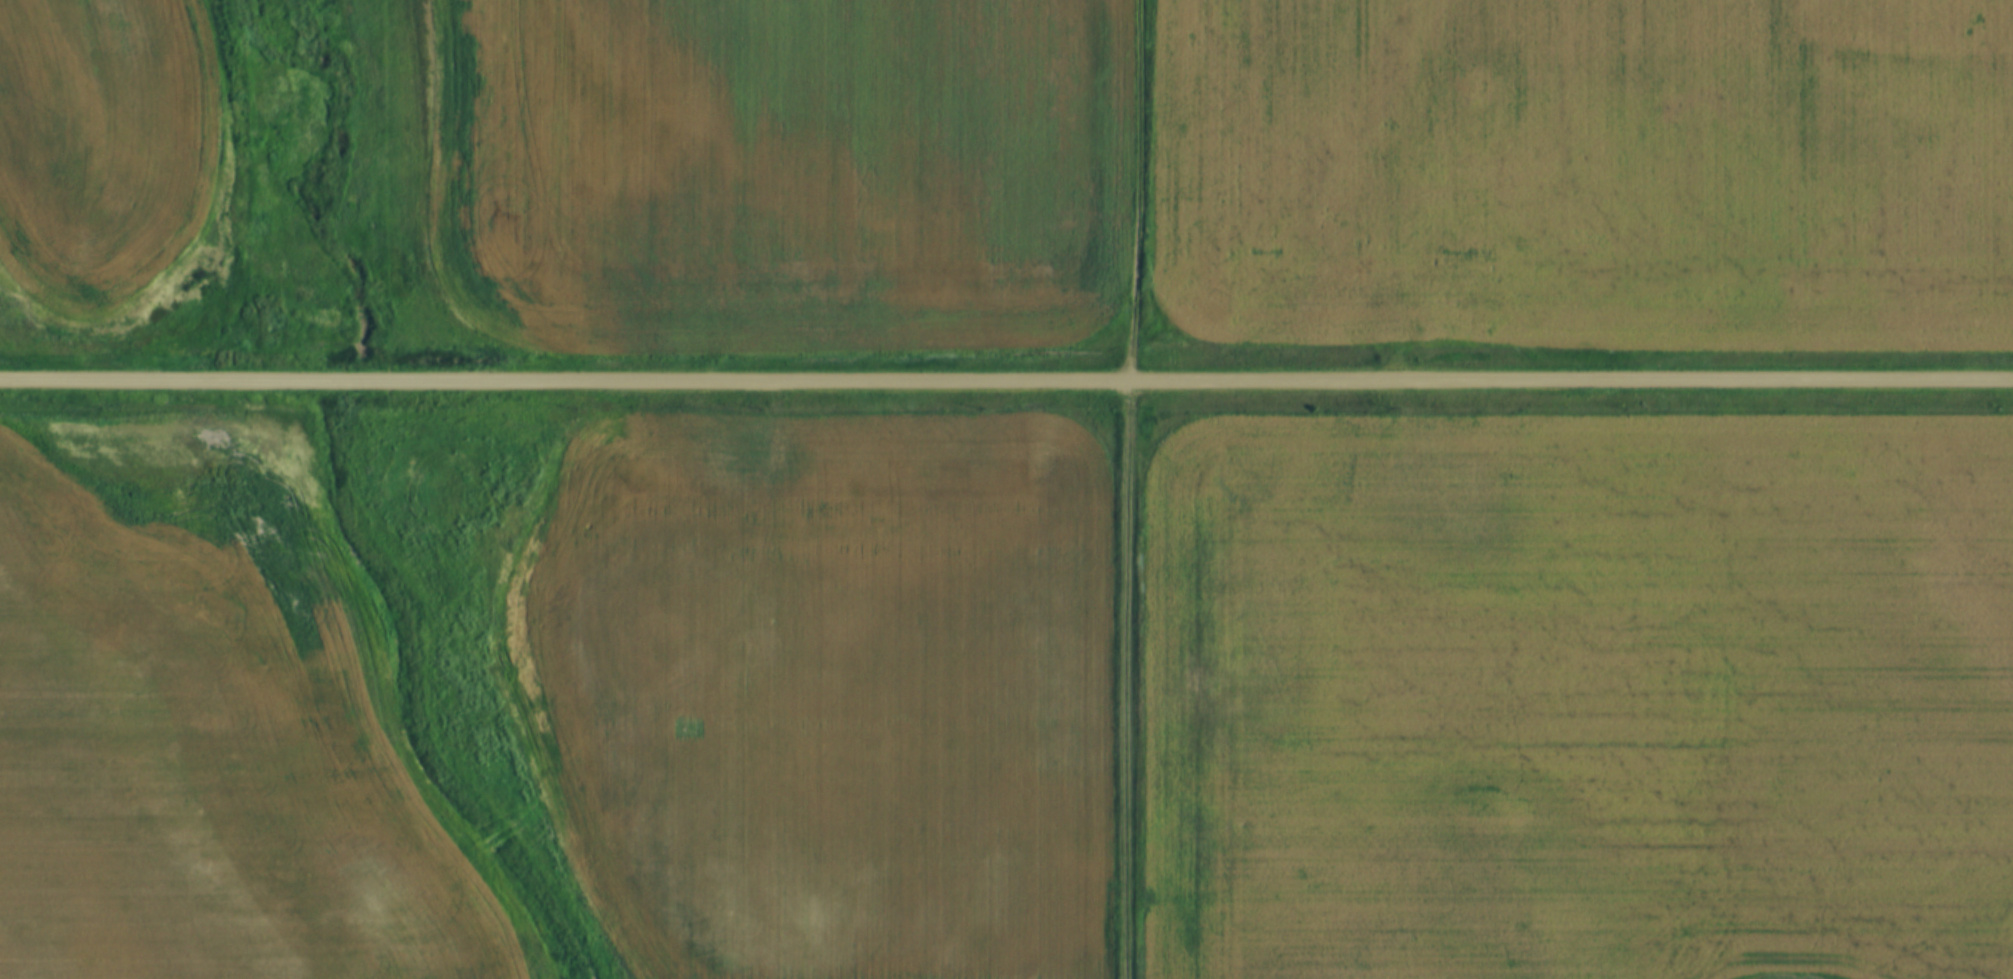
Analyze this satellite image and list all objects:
road: (1006, 381)
road: (1127, 489)

